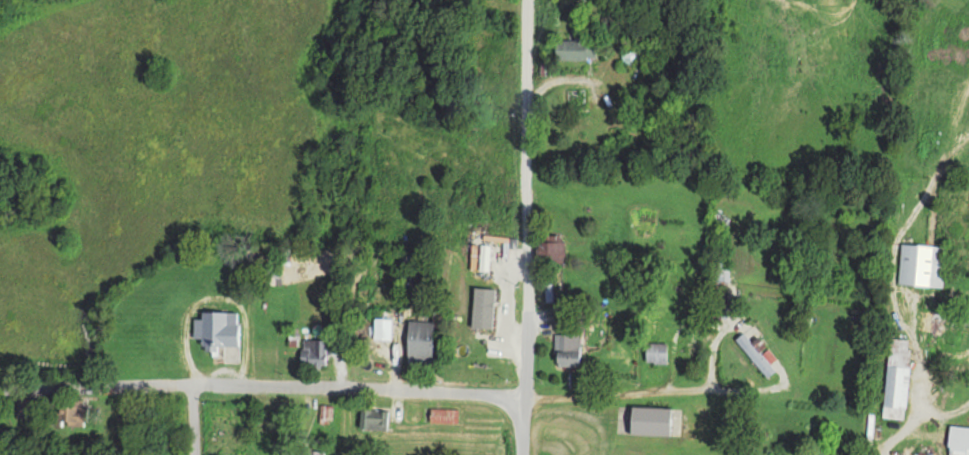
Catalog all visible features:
building: (573, 48)
building: (632, 56)
road: (524, 227)
building: (549, 253)
building: (920, 265)
building: (935, 321)
building: (381, 328)
building: (215, 329)
building: (418, 341)
building: (565, 350)
building: (897, 350)
building: (313, 351)
building: (655, 352)
building: (757, 354)
road: (260, 385)
road: (649, 392)
building: (23, 406)
building: (65, 411)
building: (439, 414)
building: (372, 418)
road: (192, 419)
building: (647, 419)
building: (957, 440)
building: (313, 452)

